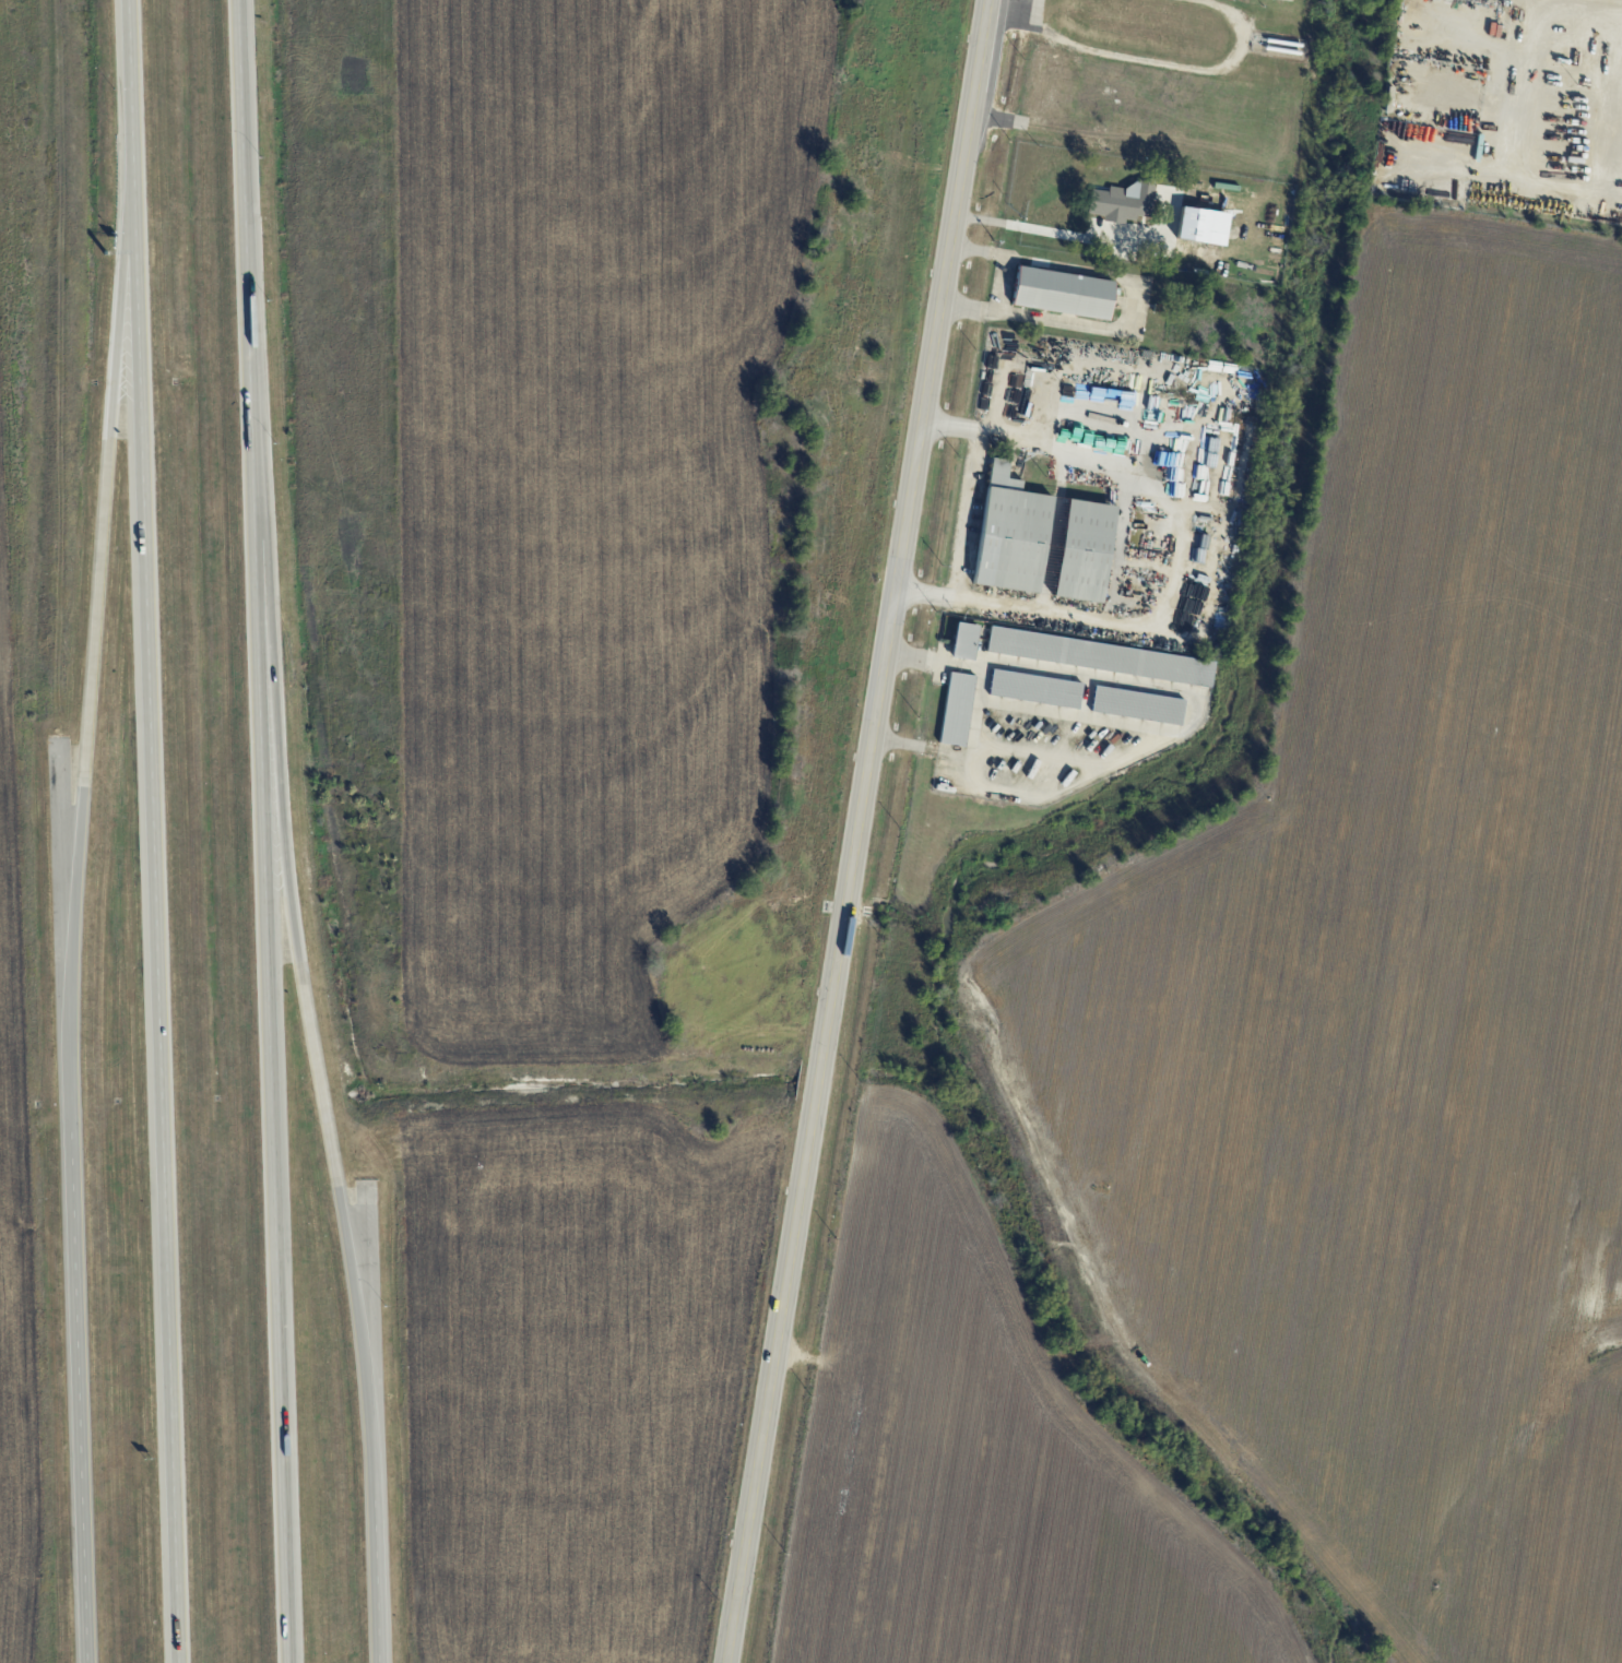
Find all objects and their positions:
road: (126, 81)
road: (1516, 104)
road: (1608, 104)
building: (1121, 201)
road: (1031, 227)
road: (1006, 285)
building: (1062, 292)
road: (1132, 305)
road: (969, 513)
building: (1010, 533)
building: (1082, 550)
road: (1175, 561)
building: (966, 641)
road: (92, 645)
building: (1099, 656)
building: (1035, 688)
building: (1136, 704)
building: (958, 709)
road: (267, 831)
road: (855, 831)
road: (163, 912)
road: (324, 1112)
road: (83, 1397)

